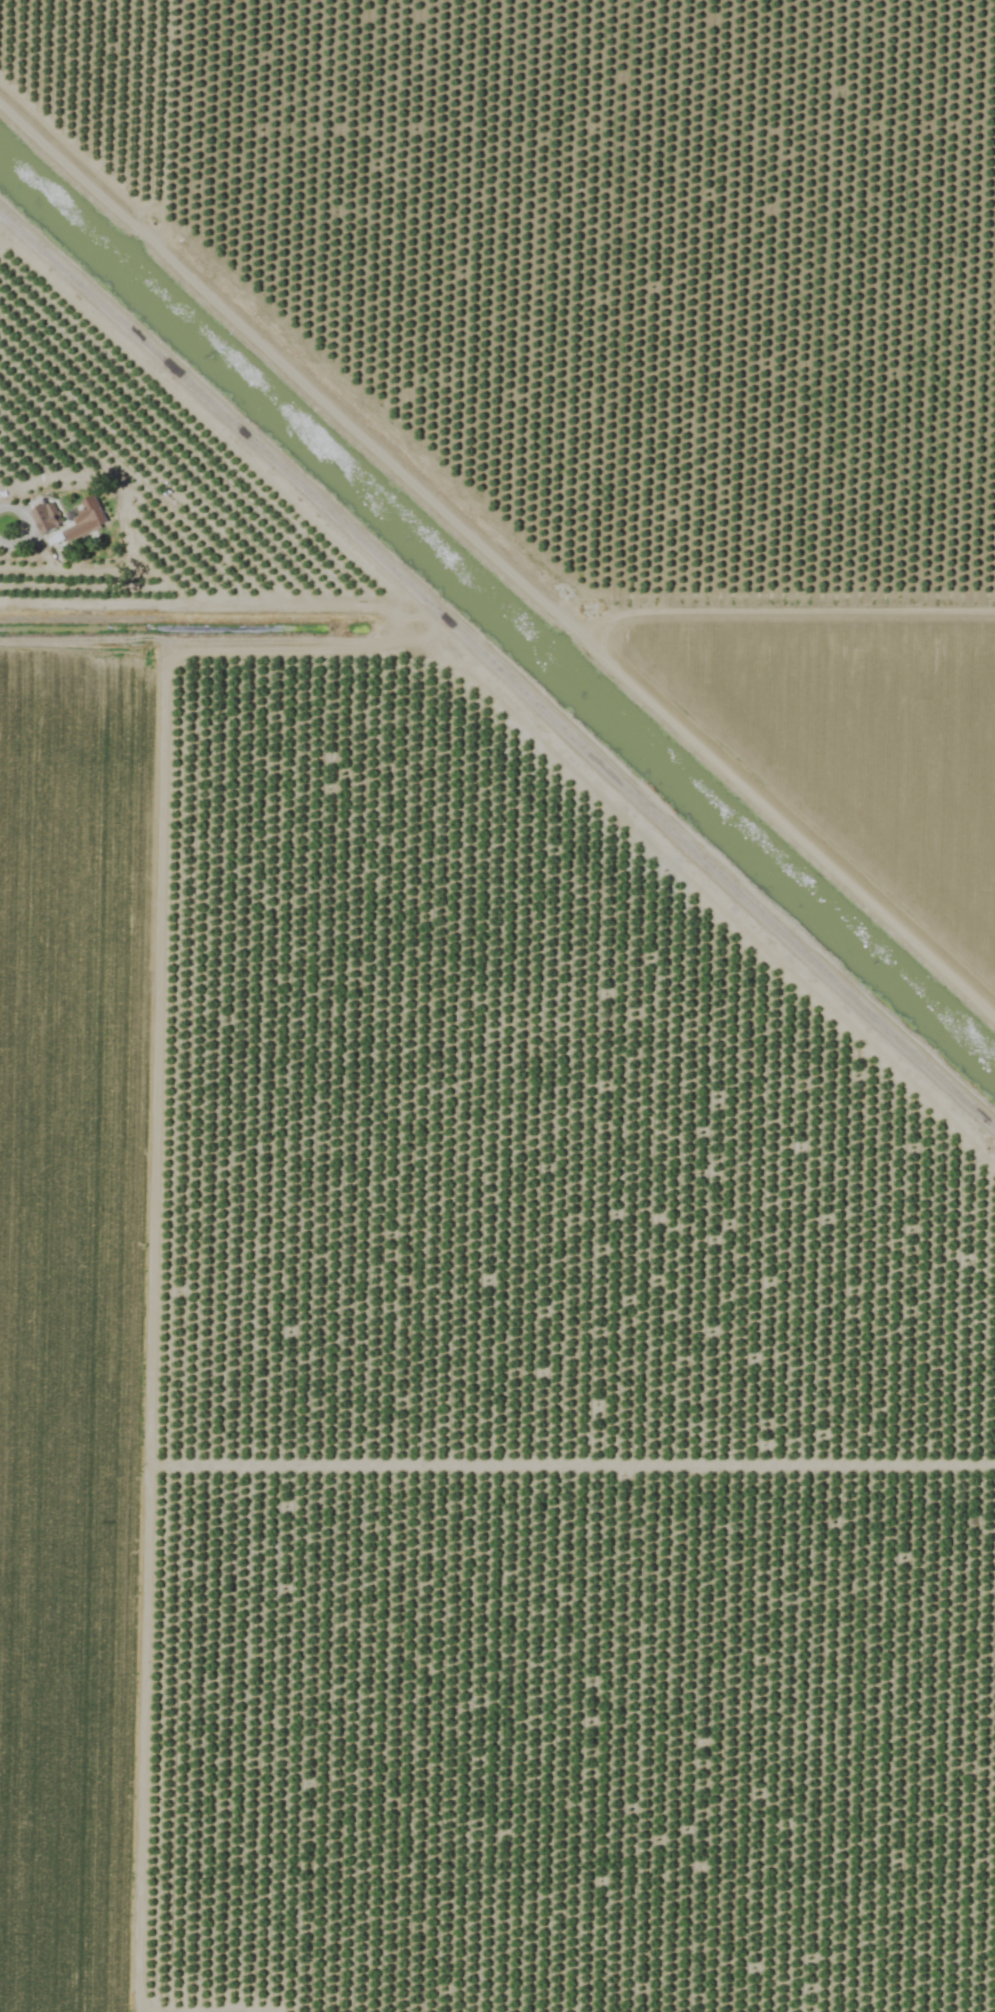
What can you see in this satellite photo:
building: (46, 517)
building: (86, 520)
road: (499, 662)
crop: (497, 1006)

